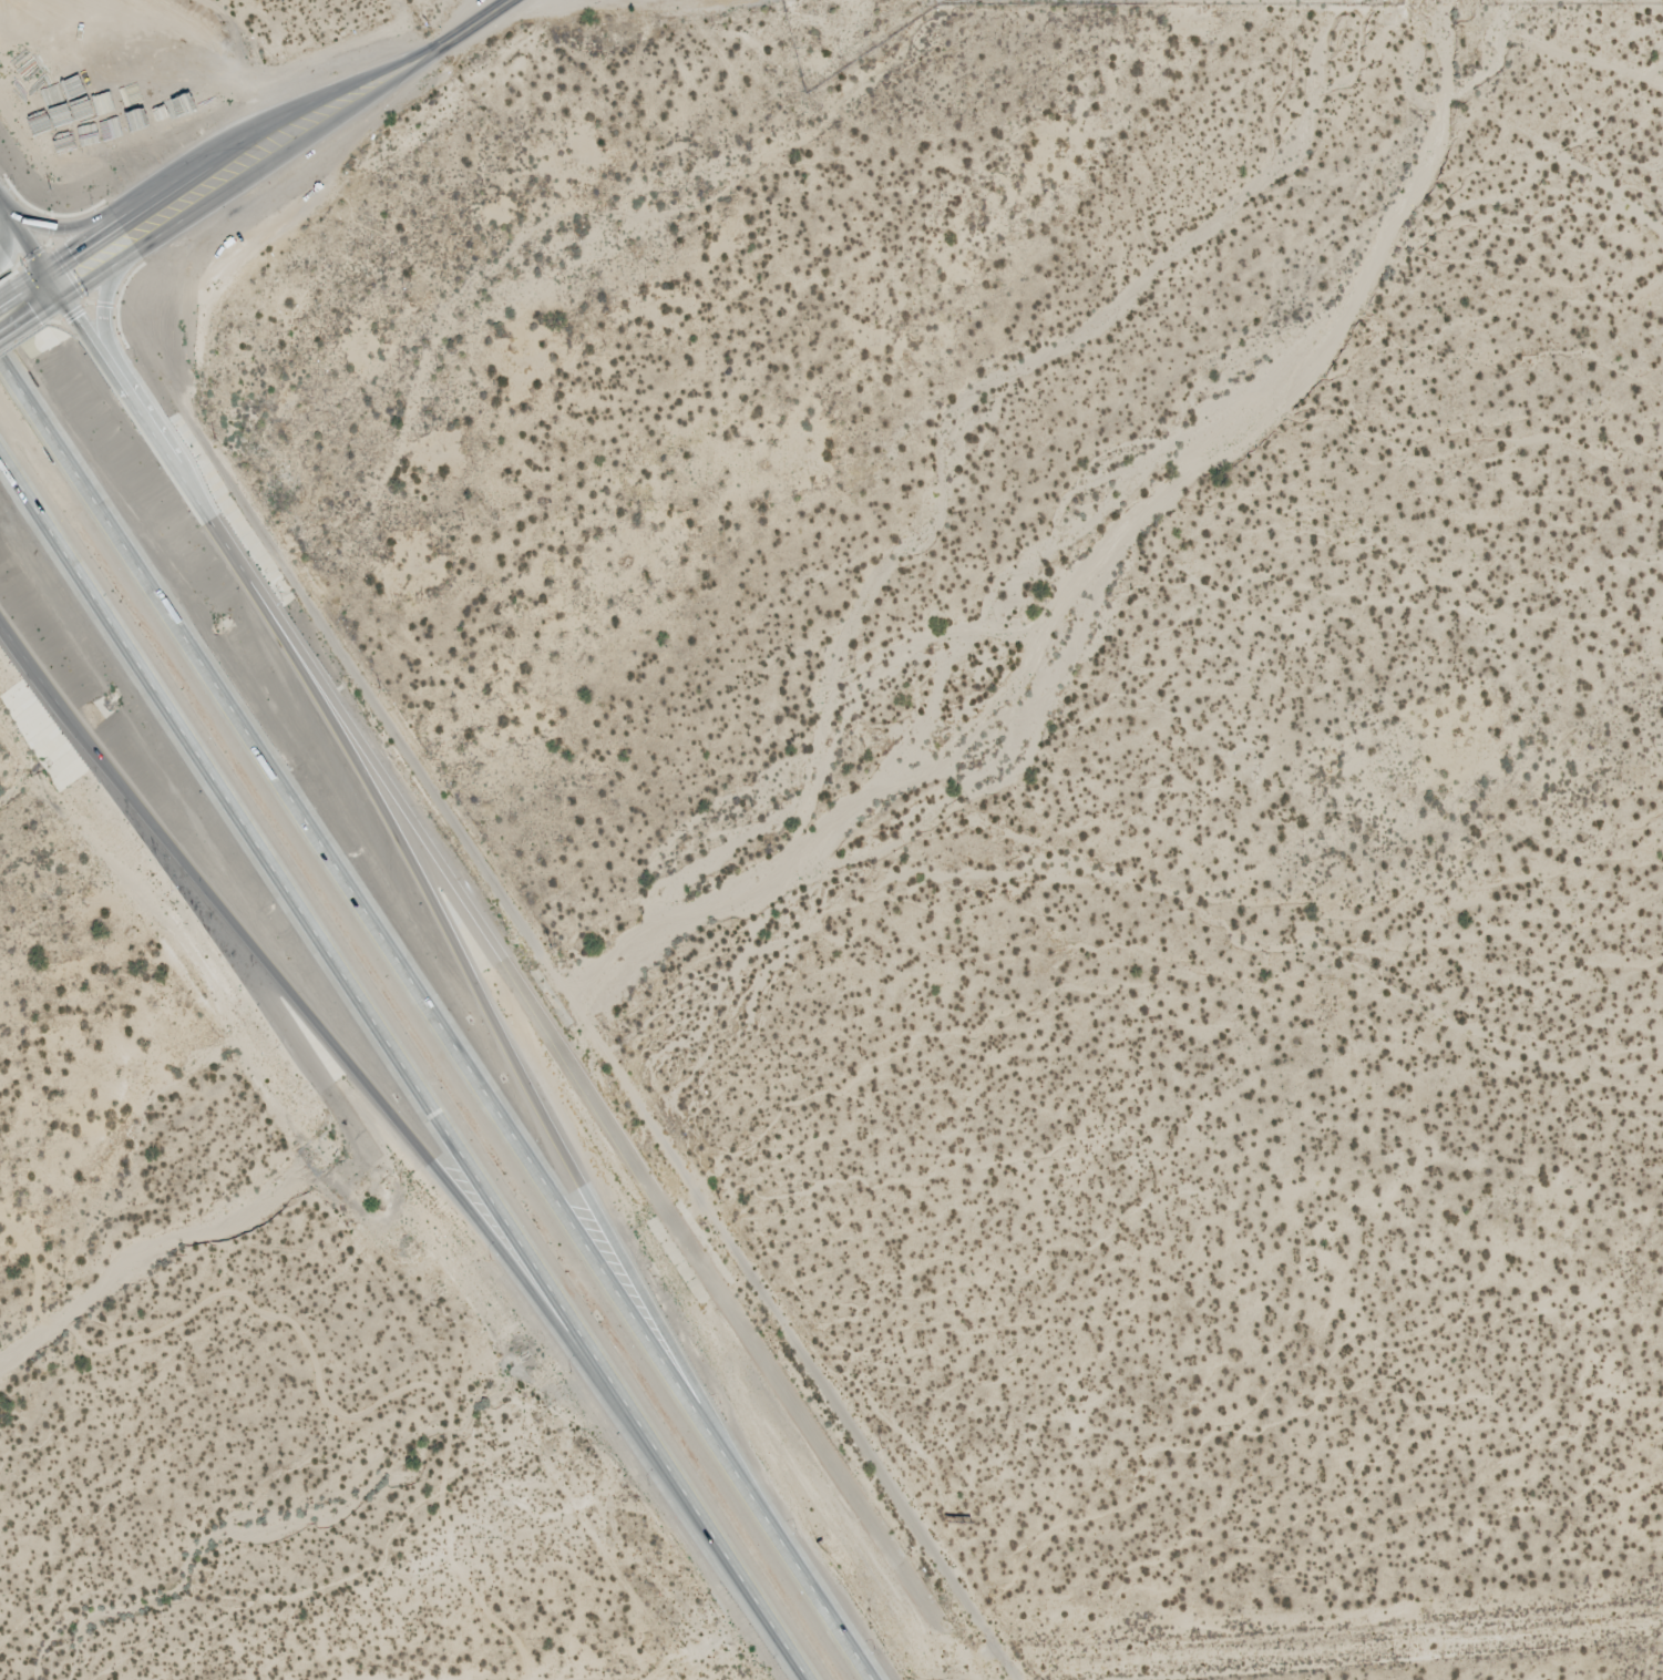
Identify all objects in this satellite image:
road: (492, 14)
road: (246, 136)
road: (264, 165)
road: (1, 222)
road: (59, 229)
road: (1, 236)
traffic signals: (52, 284)
road: (37, 294)
road: (10, 310)
road: (102, 320)
road: (119, 381)
road: (79, 735)
road: (258, 988)
road: (433, 1021)
road: (492, 1031)
road: (598, 1046)
road: (401, 1068)
road: (584, 1089)
road: (397, 1123)
road: (1397, 1657)

